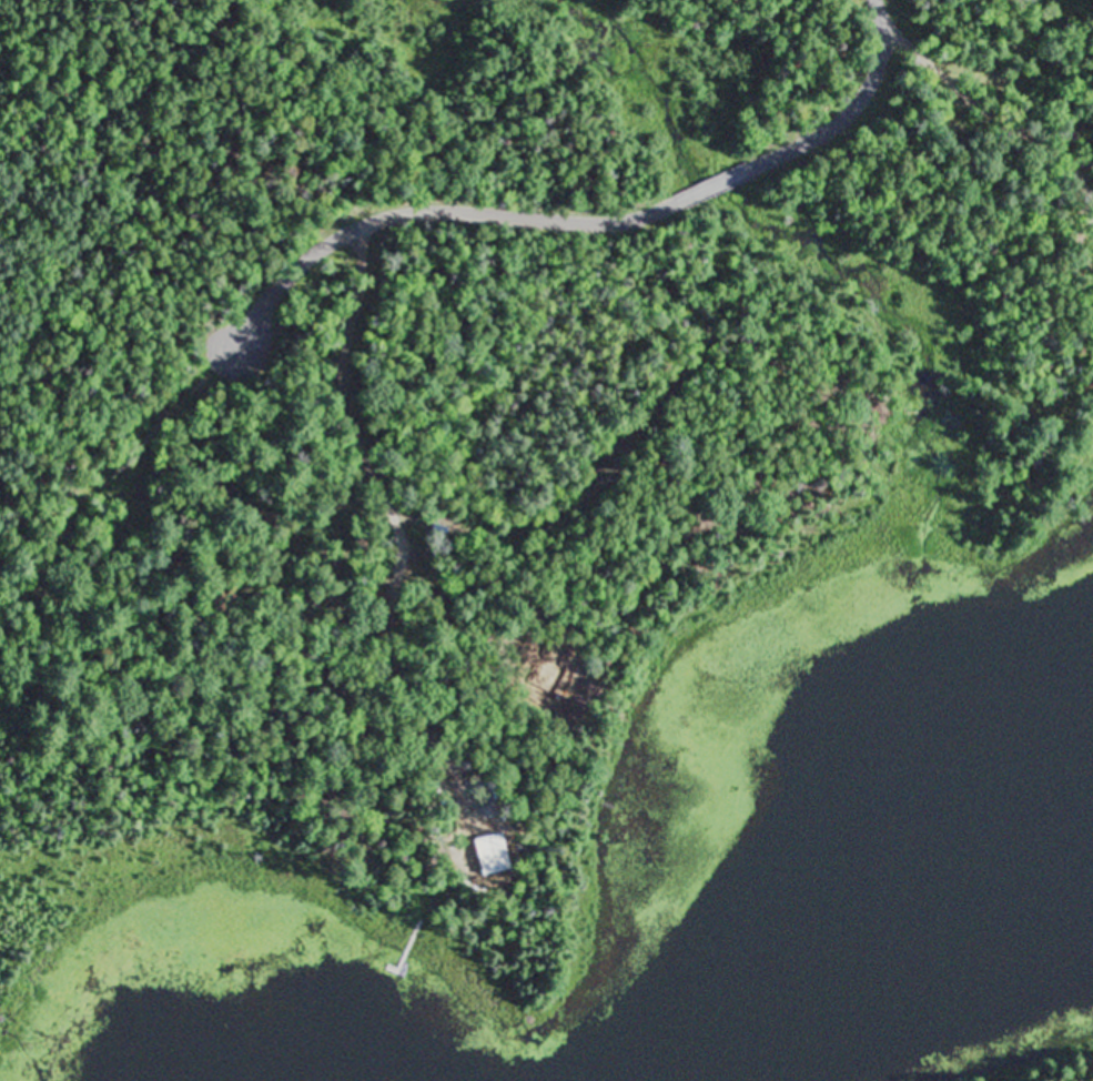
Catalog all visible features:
road: (862, 102)
road: (711, 189)
road: (418, 206)

